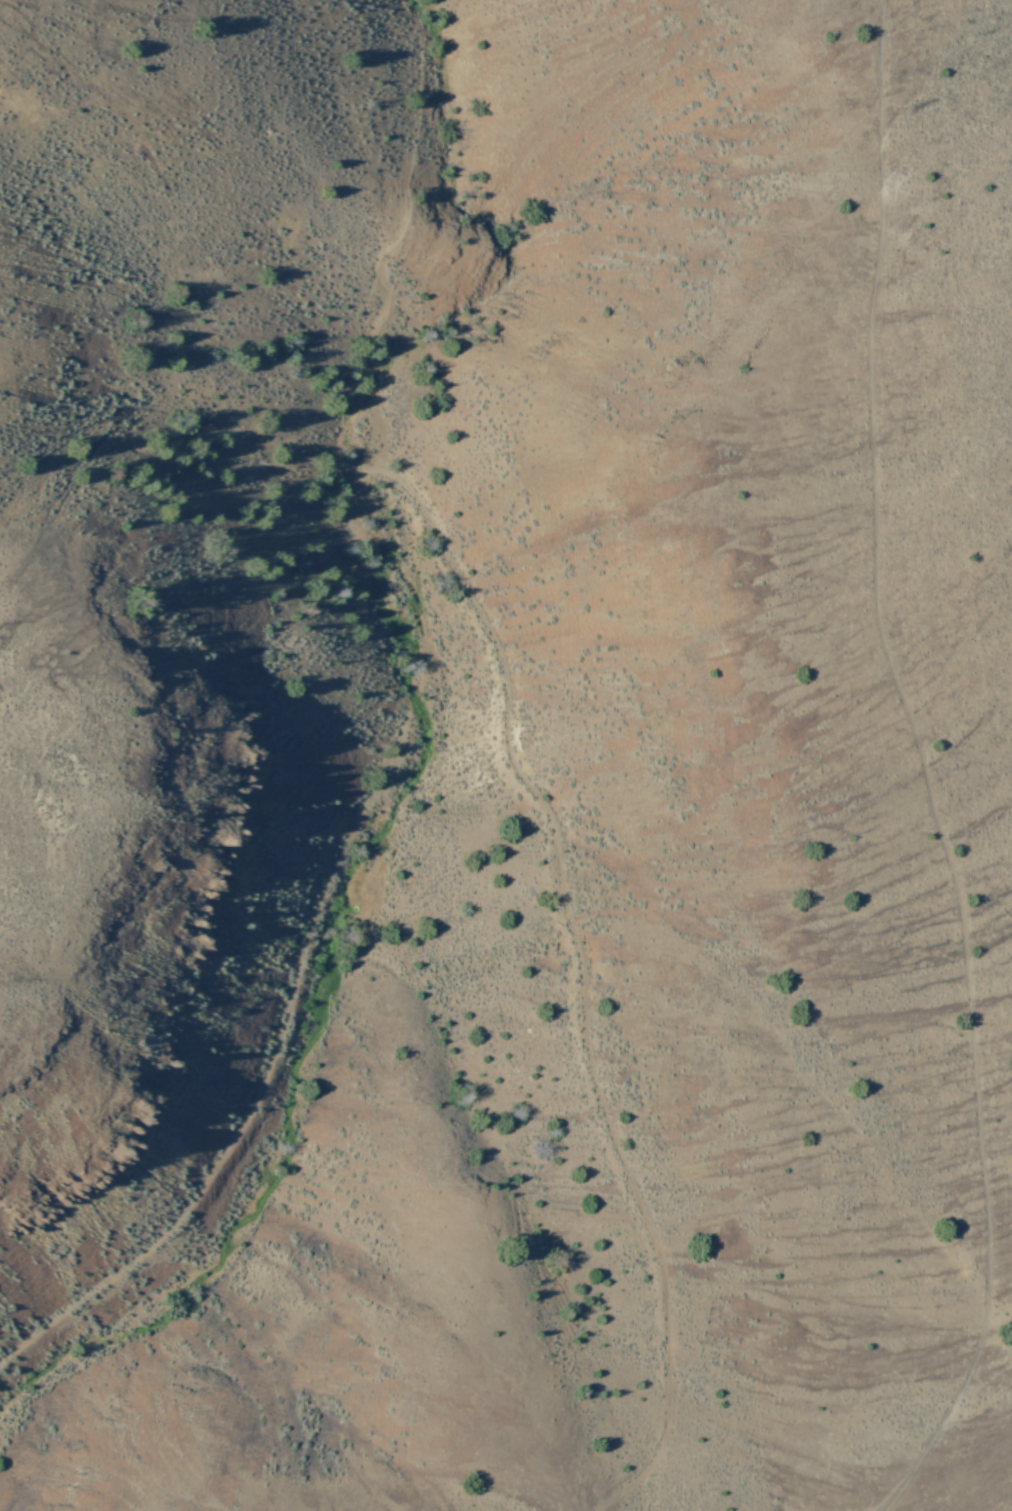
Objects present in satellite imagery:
road: (888, 774)

